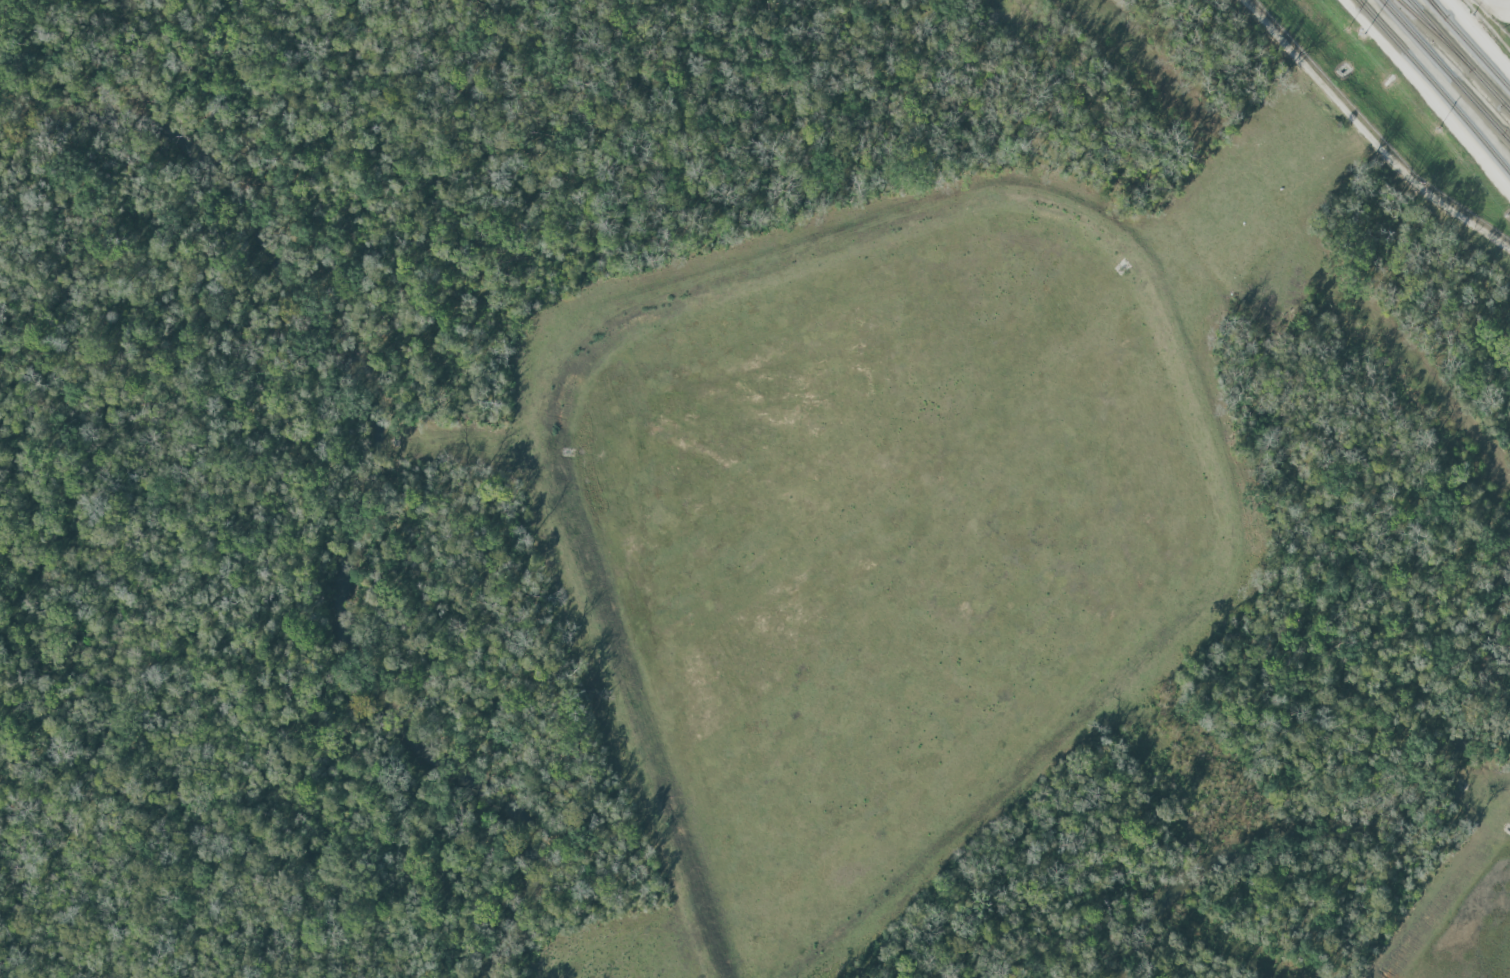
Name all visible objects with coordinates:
road: (1496, 5)
road: (1478, 36)
railway: (1455, 54)
railway: (1429, 90)
road: (1366, 135)

